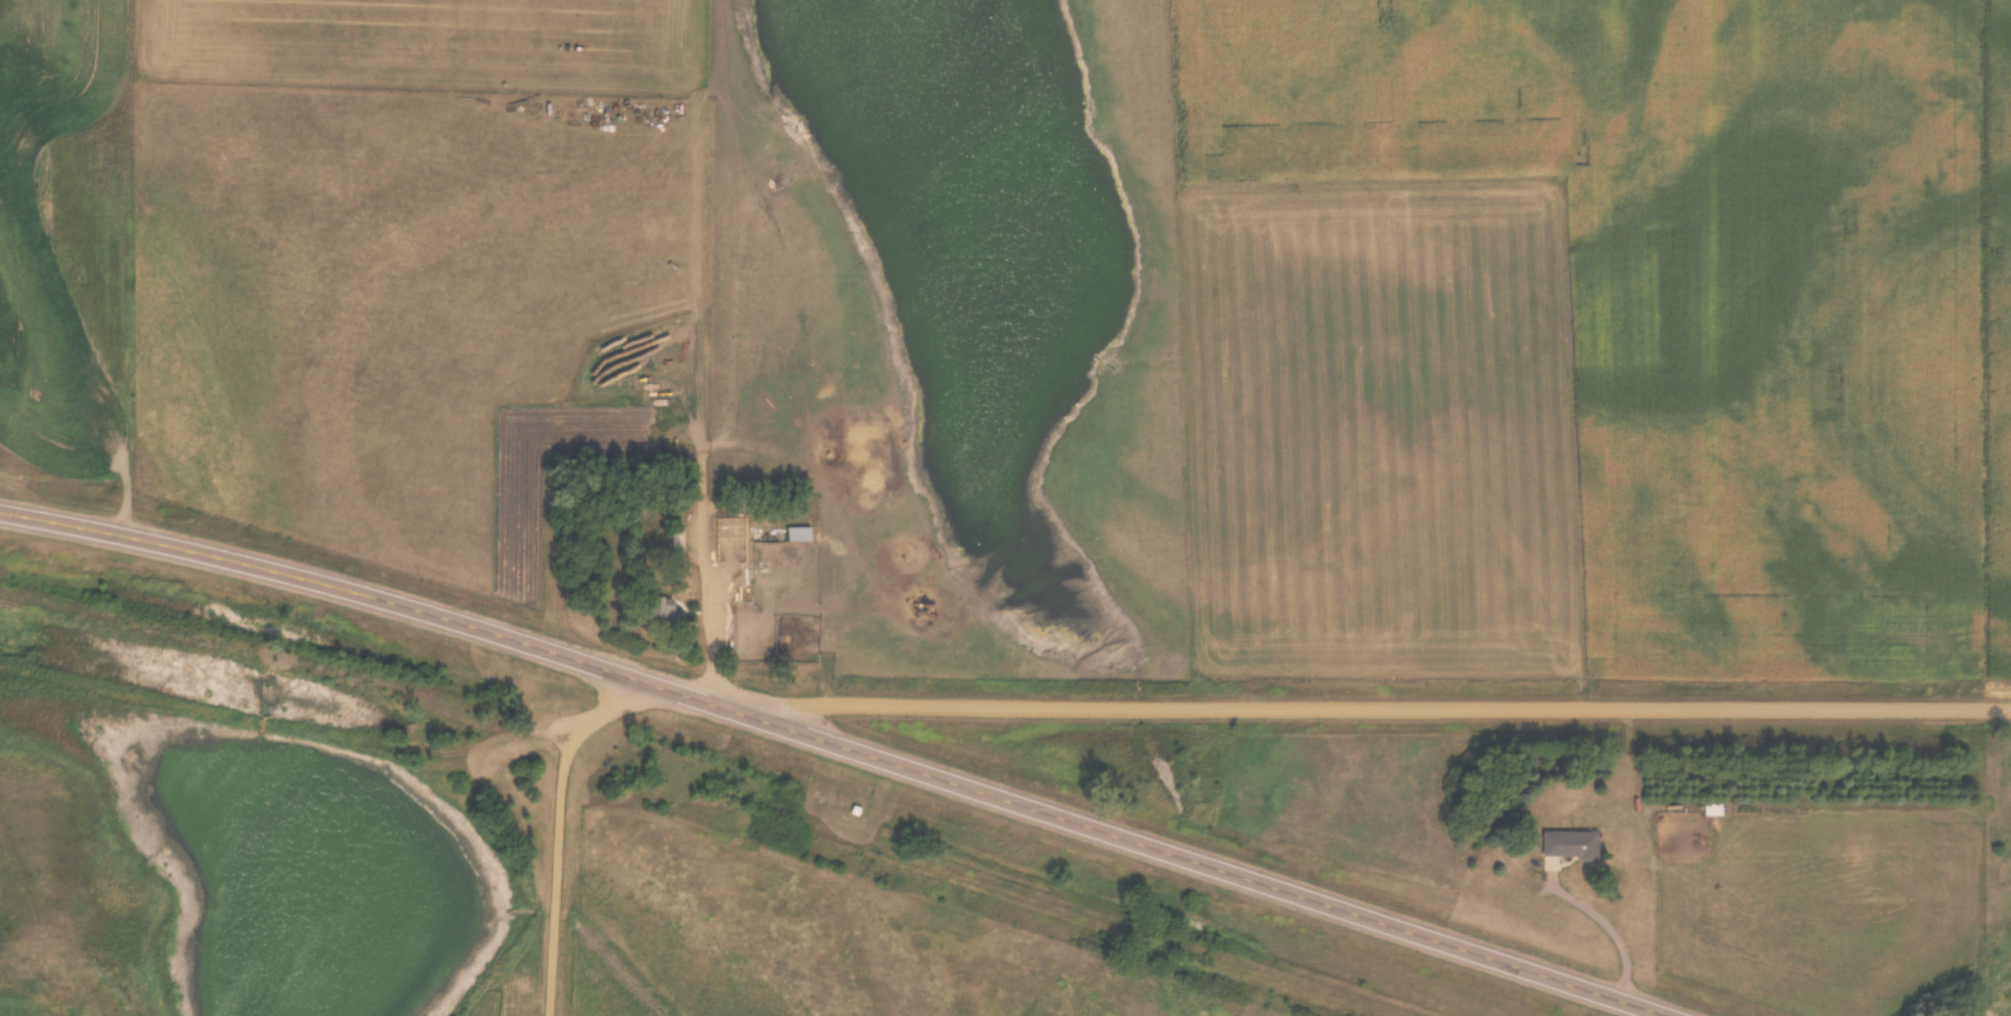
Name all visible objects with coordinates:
building: (798, 535)
building: (652, 536)
building: (676, 545)
building: (721, 553)
building: (669, 612)
road: (1381, 707)
road: (847, 736)
building: (1712, 810)
road: (561, 827)
building: (1569, 846)
road: (1610, 930)

